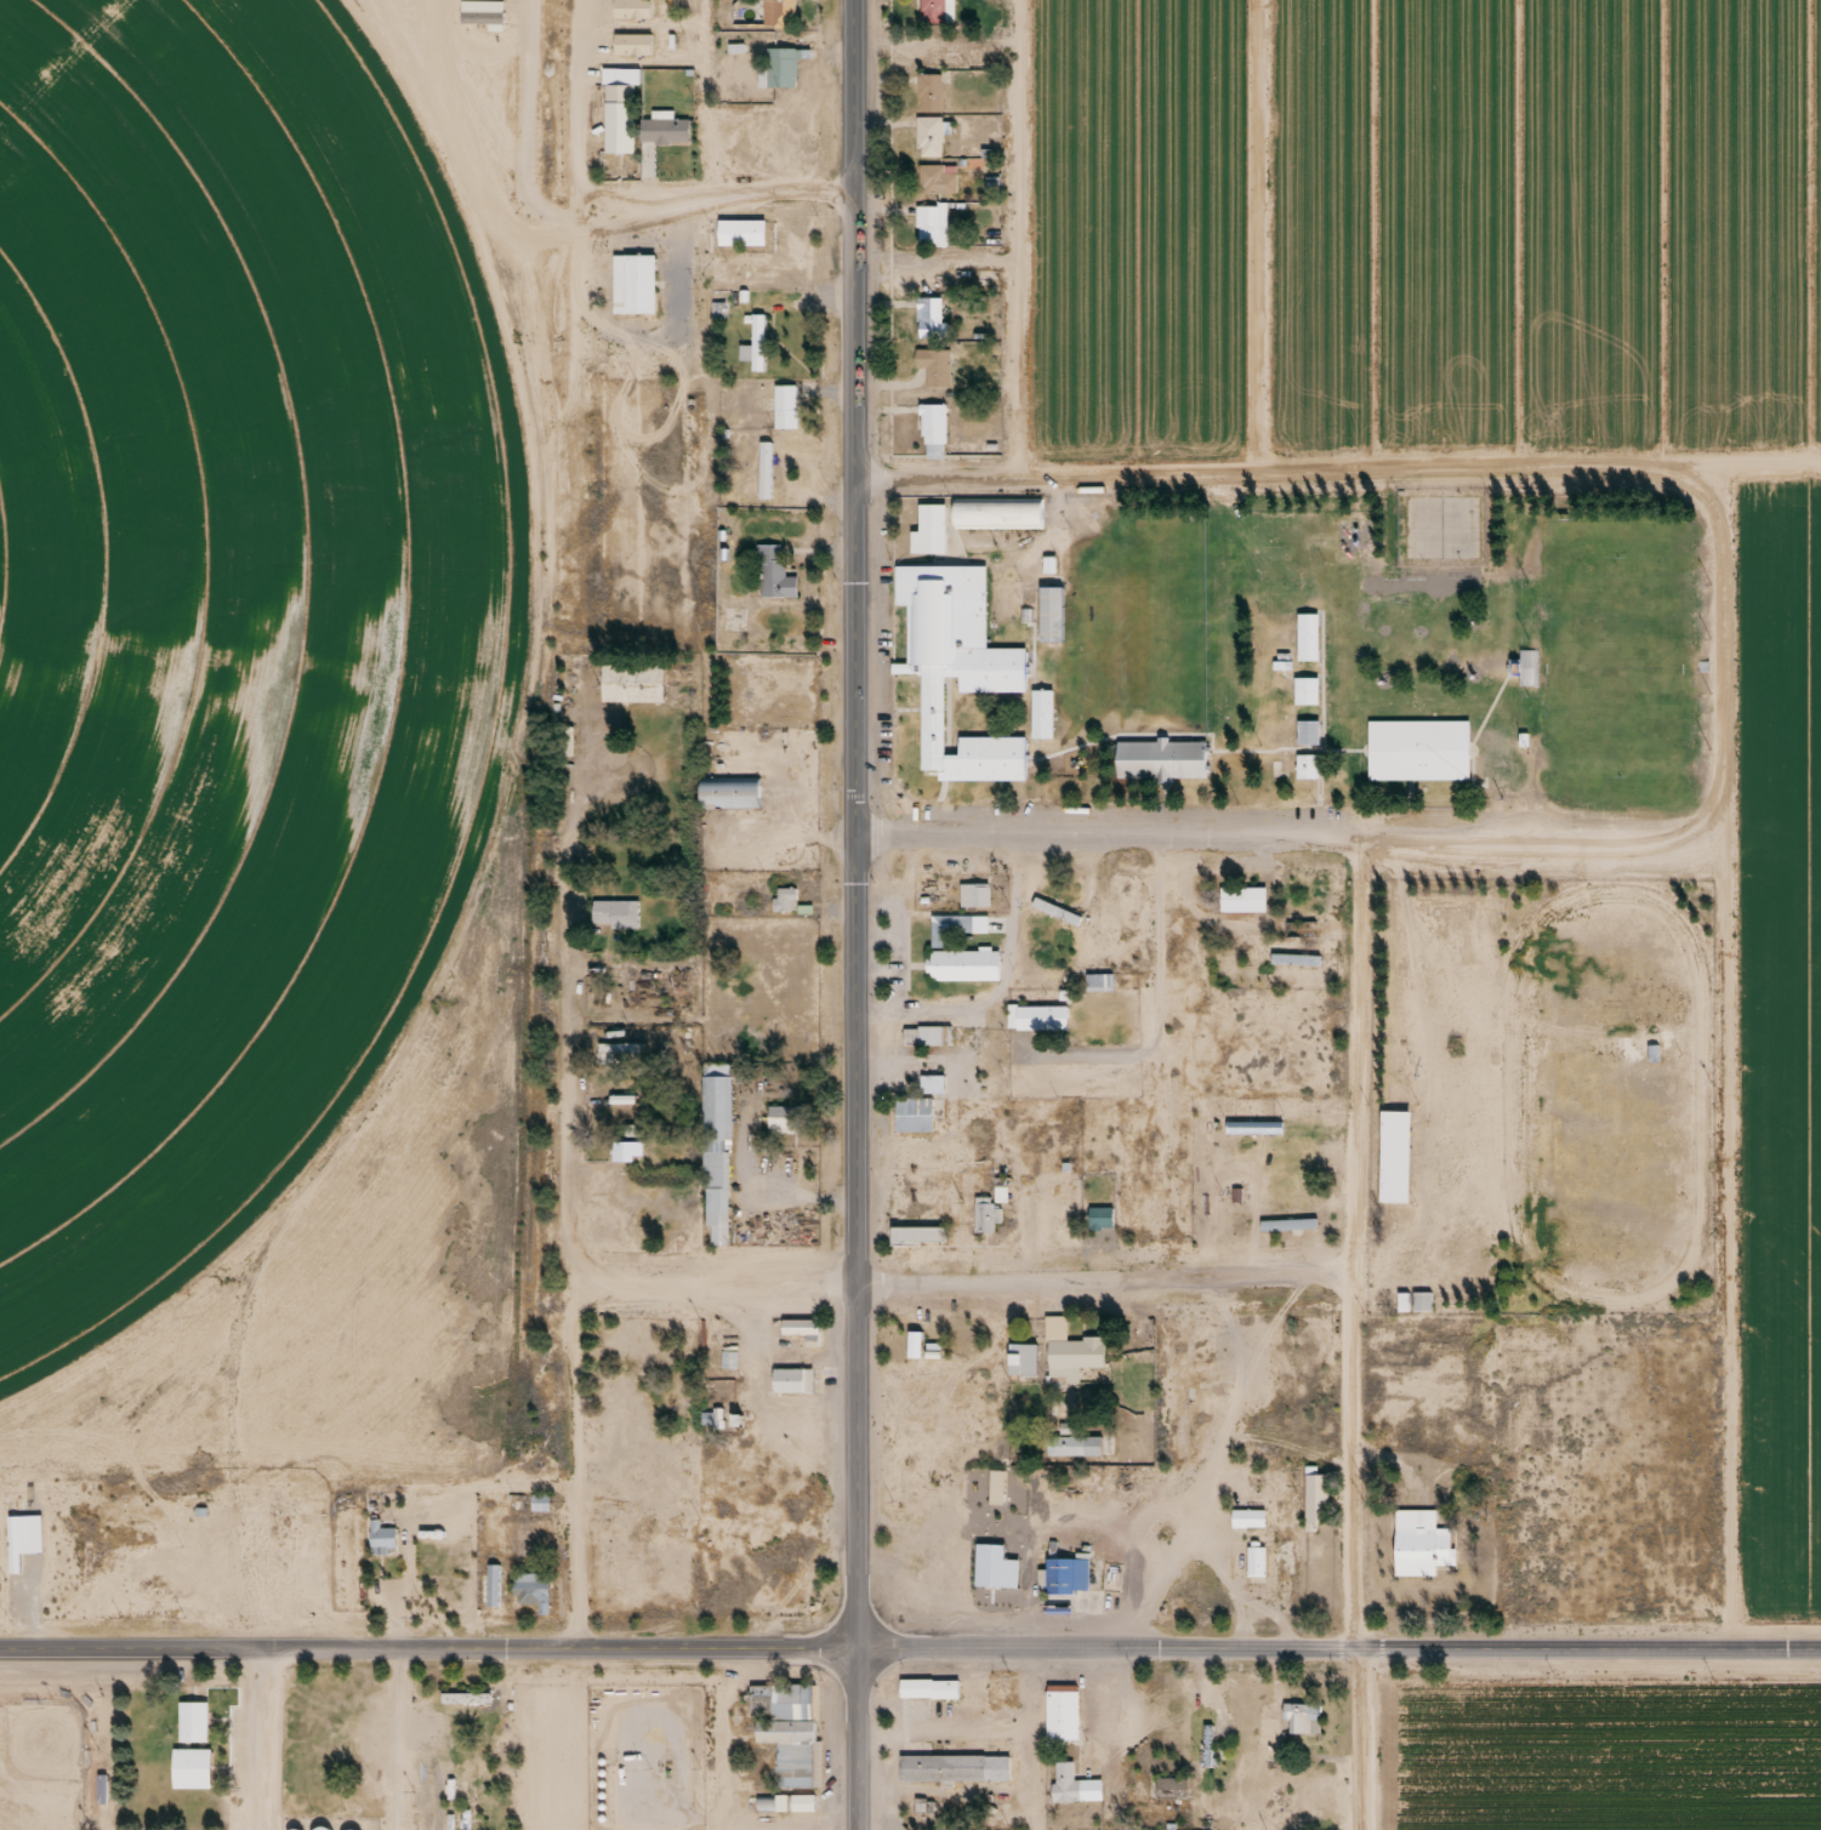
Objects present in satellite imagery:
building: (637, 11)
building: (937, 13)
building: (787, 16)
building: (638, 50)
building: (789, 70)
road: (710, 97)
building: (934, 98)
road: (582, 101)
building: (619, 125)
building: (666, 136)
building: (935, 141)
building: (941, 186)
road: (725, 193)
crop: (1423, 229)
building: (935, 233)
building: (745, 238)
road: (1019, 239)
building: (636, 291)
building: (933, 325)
building: (756, 343)
building: (938, 372)
building: (789, 412)
building: (935, 431)
building: (763, 469)
building: (772, 477)
road: (1466, 478)
building: (1000, 520)
building: (933, 537)
building: (779, 581)
building: (1025, 605)
building: (1054, 622)
building: (1310, 644)
building: (1526, 667)
building: (957, 674)
crop: (226, 682)
building: (636, 688)
building: (1309, 700)
building: (1043, 720)
building: (1307, 731)
building: (1313, 742)
building: (1421, 757)
building: (1305, 765)
building: (1165, 769)
building: (732, 799)
road: (857, 823)
road: (1285, 833)
building: (1241, 899)
building: (981, 902)
building: (613, 913)
building: (1063, 919)
building: (952, 934)
building: (966, 974)
building: (1098, 982)
building: (1043, 1022)
building: (615, 1051)
building: (927, 1077)
building: (935, 1089)
building: (783, 1119)
building: (914, 1121)
building: (718, 1150)
building: (624, 1151)
building: (1398, 1165)
building: (1005, 1196)
road: (571, 1201)
building: (1099, 1218)
building: (985, 1222)
building: (1286, 1224)
building: (917, 1239)
road: (1359, 1243)
road: (712, 1275)
road: (1105, 1279)
building: (1421, 1301)
building: (806, 1336)
building: (1081, 1363)
building: (1024, 1364)
building: (791, 1389)
building: (1081, 1440)
building: (997, 1480)
building: (1316, 1495)
building: (537, 1503)
building: (1247, 1510)
building: (379, 1527)
building: (431, 1527)
building: (1418, 1544)
building: (1254, 1553)
building: (1060, 1570)
building: (997, 1572)
building: (493, 1578)
building: (530, 1590)
road: (429, 1651)
road: (1339, 1652)
building: (933, 1694)
building: (190, 1718)
building: (1301, 1718)
building: (1065, 1721)
building: (787, 1732)
road: (858, 1739)
road: (267, 1740)
road: (1356, 1741)
building: (190, 1760)
building: (952, 1761)
building: (1170, 1788)
building: (99, 1790)
building: (1077, 1792)
building: (1182, 1828)

